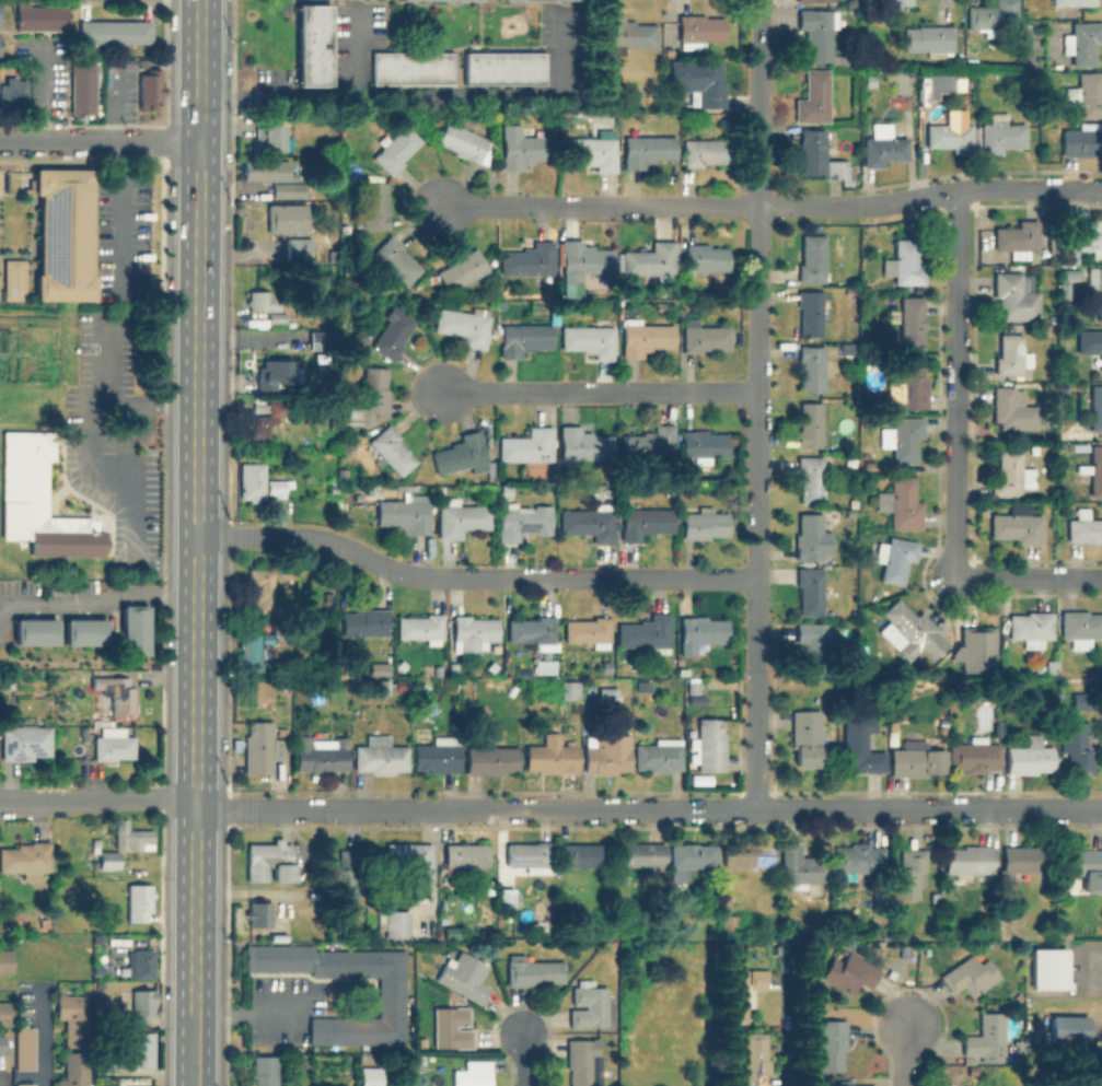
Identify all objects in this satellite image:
building: (815, 0)
building: (900, 2)
building: (1074, 2)
building: (993, 15)
building: (39, 17)
building: (116, 30)
building: (699, 31)
building: (819, 32)
building: (627, 35)
building: (930, 39)
building: (1082, 43)
building: (311, 45)
building: (844, 60)
building: (948, 62)
building: (409, 67)
building: (501, 67)
road: (199, 71)
building: (966, 79)
building: (868, 81)
building: (704, 82)
building: (151, 87)
building: (80, 89)
road: (314, 91)
road: (494, 92)
building: (15, 93)
building: (1086, 95)
building: (814, 98)
building: (267, 133)
building: (1001, 133)
building: (951, 138)
building: (1082, 139)
road: (98, 143)
building: (465, 143)
building: (884, 147)
building: (647, 148)
building: (524, 149)
building: (397, 150)
building: (705, 152)
building: (593, 153)
building: (821, 156)
building: (264, 168)
road: (1029, 188)
building: (252, 190)
building: (289, 190)
road: (903, 199)
building: (375, 206)
road: (643, 207)
road: (117, 217)
building: (286, 218)
building: (66, 233)
building: (1090, 236)
building: (1017, 237)
building: (298, 249)
building: (333, 255)
building: (396, 257)
building: (587, 258)
building: (706, 258)
building: (812, 259)
building: (530, 261)
building: (653, 261)
building: (905, 264)
building: (463, 270)
building: (15, 278)
building: (1095, 285)
building: (1016, 295)
road: (198, 299)
building: (321, 303)
building: (661, 304)
building: (266, 305)
building: (811, 313)
building: (891, 315)
building: (913, 324)
building: (465, 325)
building: (393, 334)
building: (646, 337)
building: (706, 337)
road: (757, 337)
building: (525, 338)
building: (318, 339)
building: (359, 340)
building: (591, 340)
building: (1091, 346)
building: (1011, 354)
building: (812, 369)
building: (275, 373)
building: (910, 384)
road: (958, 384)
road: (595, 392)
building: (374, 394)
building: (1011, 408)
building: (1095, 409)
building: (265, 419)
building: (811, 425)
building: (902, 437)
building: (583, 443)
building: (650, 444)
building: (529, 445)
building: (705, 445)
building: (393, 449)
building: (463, 454)
road: (89, 469)
building: (343, 470)
building: (1093, 471)
building: (1009, 472)
building: (811, 479)
building: (260, 481)
building: (492, 488)
building: (595, 489)
road: (197, 497)
building: (37, 500)
building: (902, 504)
building: (407, 513)
building: (462, 518)
building: (524, 521)
building: (645, 523)
building: (588, 524)
building: (705, 524)
building: (1018, 524)
building: (1084, 526)
building: (812, 538)
building: (895, 559)
road: (1030, 577)
road: (472, 579)
building: (263, 589)
building: (811, 591)
road: (98, 605)
building: (326, 610)
building: (367, 622)
building: (1031, 626)
building: (291, 627)
building: (422, 628)
building: (475, 628)
building: (1080, 628)
building: (130, 629)
building: (703, 630)
building: (33, 631)
building: (83, 631)
building: (534, 631)
building: (590, 631)
building: (912, 631)
building: (646, 632)
building: (816, 644)
building: (975, 649)
building: (254, 650)
building: (1049, 665)
building: (546, 667)
building: (376, 668)
road: (196, 669)
building: (399, 684)
building: (383, 686)
building: (642, 686)
building: (694, 686)
building: (424, 688)
building: (571, 690)
building: (513, 691)
building: (116, 692)
building: (608, 696)
road: (755, 700)
building: (1082, 701)
building: (84, 735)
building: (807, 737)
building: (25, 740)
building: (1076, 744)
building: (709, 745)
building: (861, 745)
building: (114, 746)
building: (260, 748)
building: (440, 755)
building: (607, 755)
building: (660, 755)
building: (975, 755)
building: (322, 756)
building: (382, 756)
building: (553, 757)
building: (1030, 757)
building: (916, 759)
building: (491, 760)
road: (755, 768)
road: (97, 799)
road: (648, 810)
building: (132, 836)
building: (749, 853)
building: (467, 854)
building: (105, 855)
building: (582, 855)
building: (531, 856)
building: (642, 857)
building: (691, 857)
building: (859, 857)
building: (26, 859)
building: (971, 859)
building: (1026, 859)
building: (271, 862)
building: (414, 865)
building: (1084, 866)
building: (800, 868)
building: (909, 873)
building: (346, 876)
building: (508, 897)
building: (140, 901)
road: (194, 908)
building: (259, 913)
building: (729, 921)
building: (397, 924)
building: (4, 961)
building: (144, 962)
building: (1046, 968)
building: (100, 969)
building: (534, 971)
building: (849, 972)
building: (970, 976)
building: (465, 977)
building: (743, 986)
building: (392, 996)
building: (590, 1005)
building: (140, 1006)
building: (4, 1013)
road: (247, 1015)
building: (71, 1018)
building: (452, 1027)
building: (1069, 1028)
road: (38, 1034)
building: (985, 1037)
road: (791, 1039)
building: (3, 1042)
building: (832, 1044)
building: (140, 1047)
building: (24, 1048)
road: (193, 1050)
road: (901, 1052)
road: (526, 1058)
building: (421, 1059)
building: (583, 1060)
building: (756, 1060)
building: (407, 1066)
building: (74, 1069)
building: (265, 1070)
building: (371, 1074)
building: (474, 1074)
building: (845, 1083)
building: (25, 1084)
building: (697, 1084)

